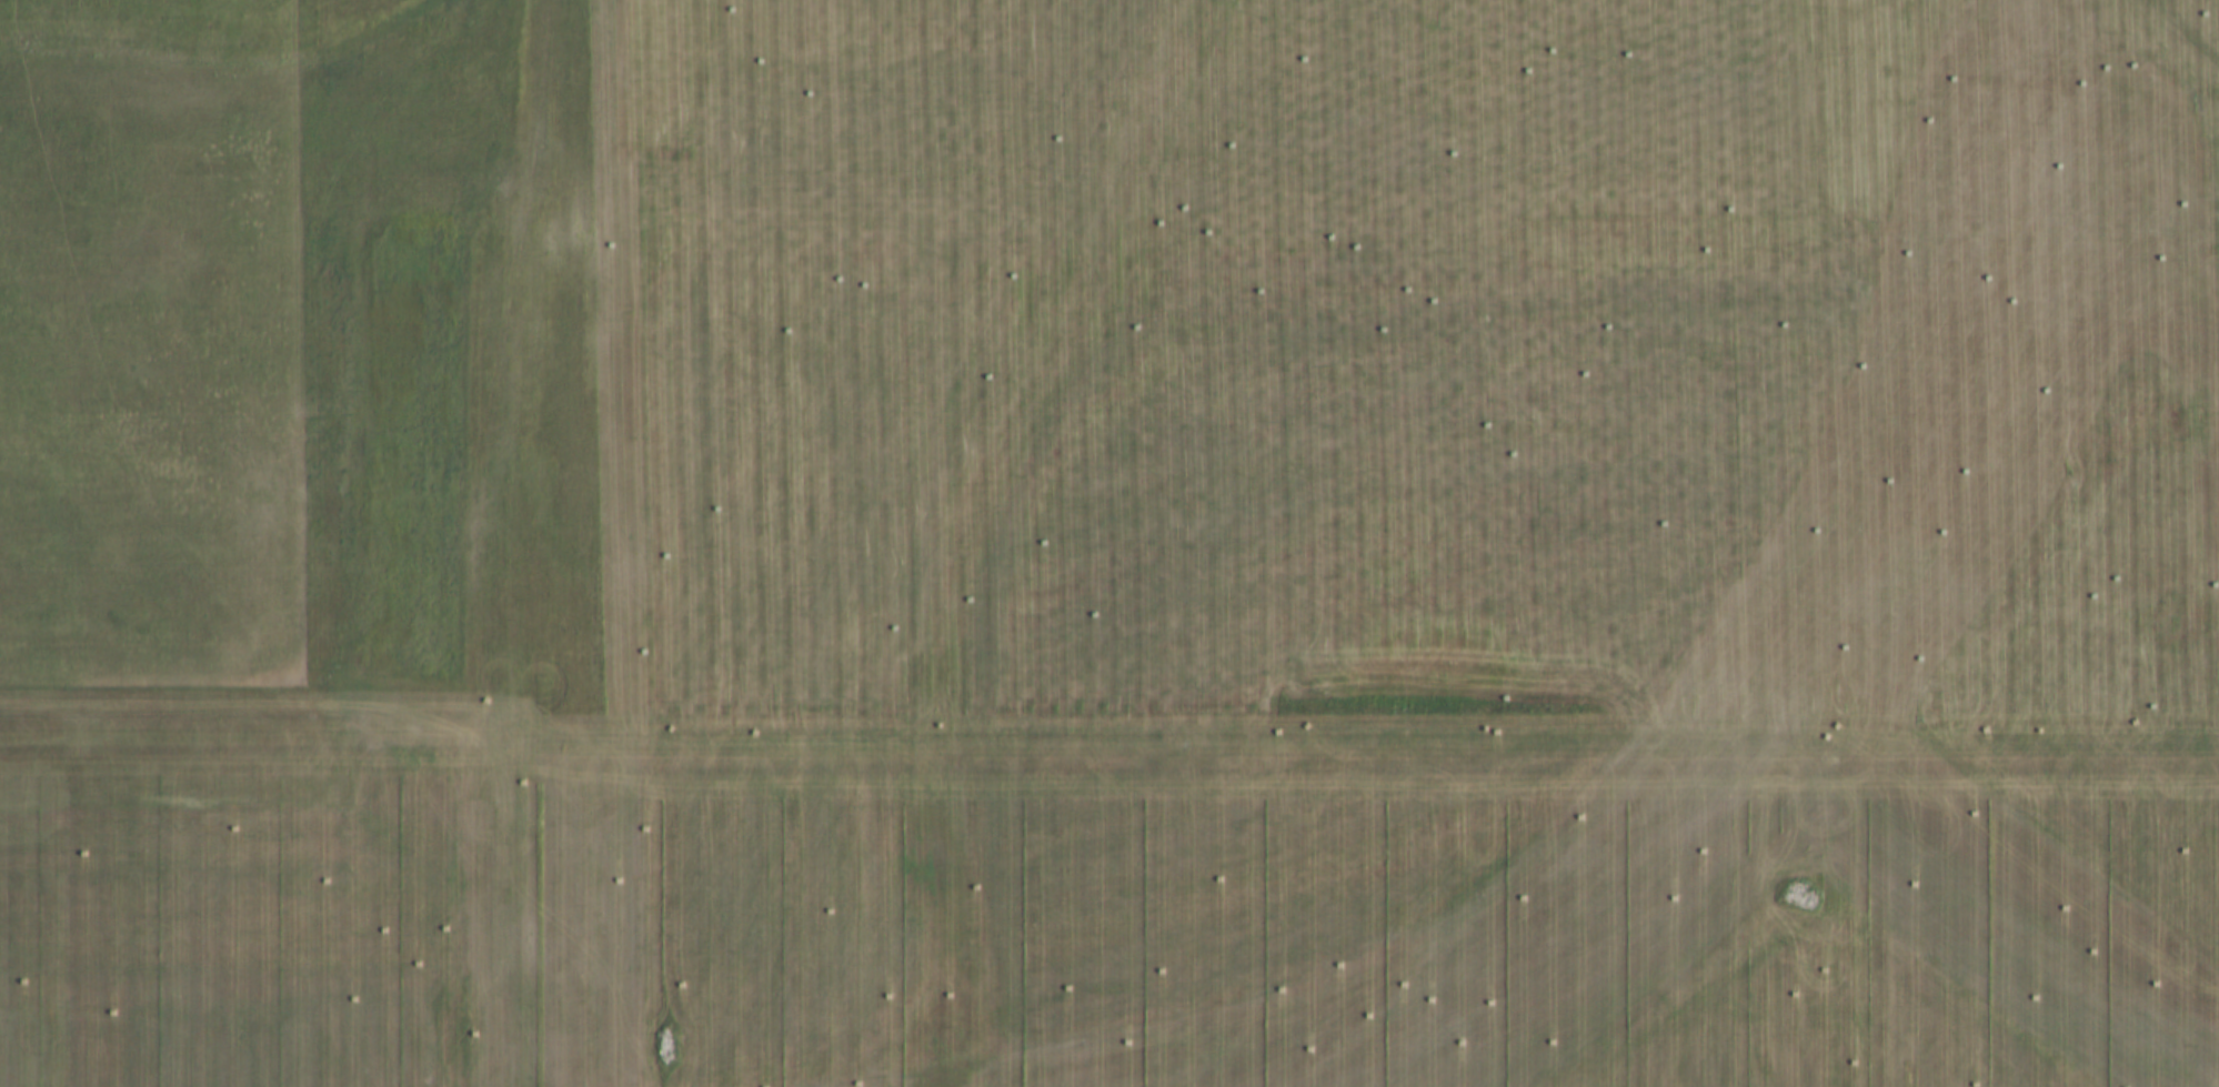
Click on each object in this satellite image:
quarry: (1036, 486)

